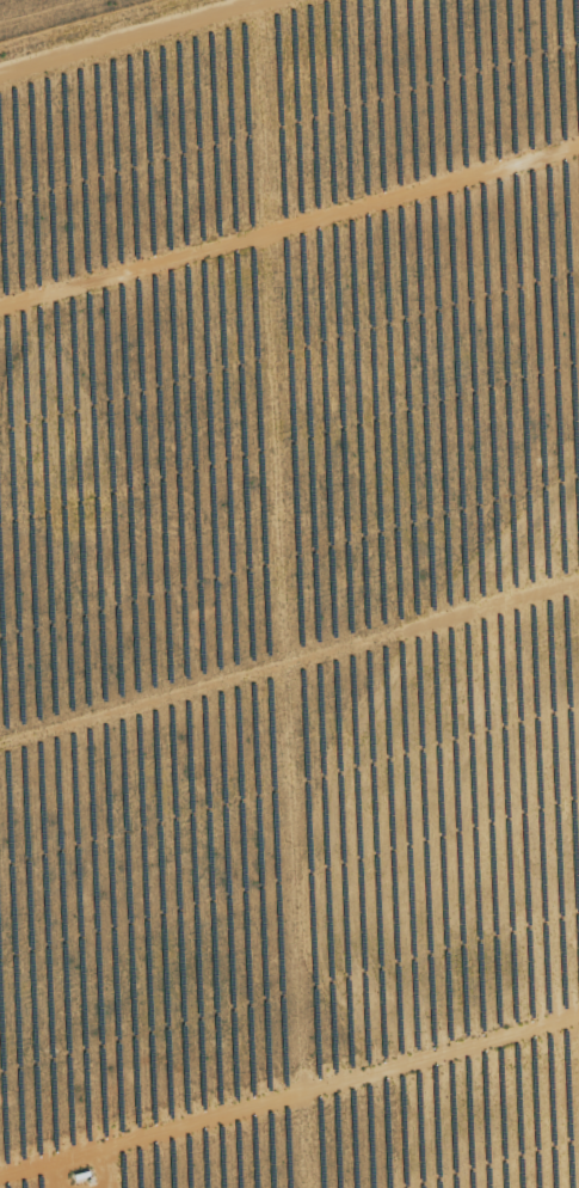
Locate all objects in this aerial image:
solar farm: (291, 599)

